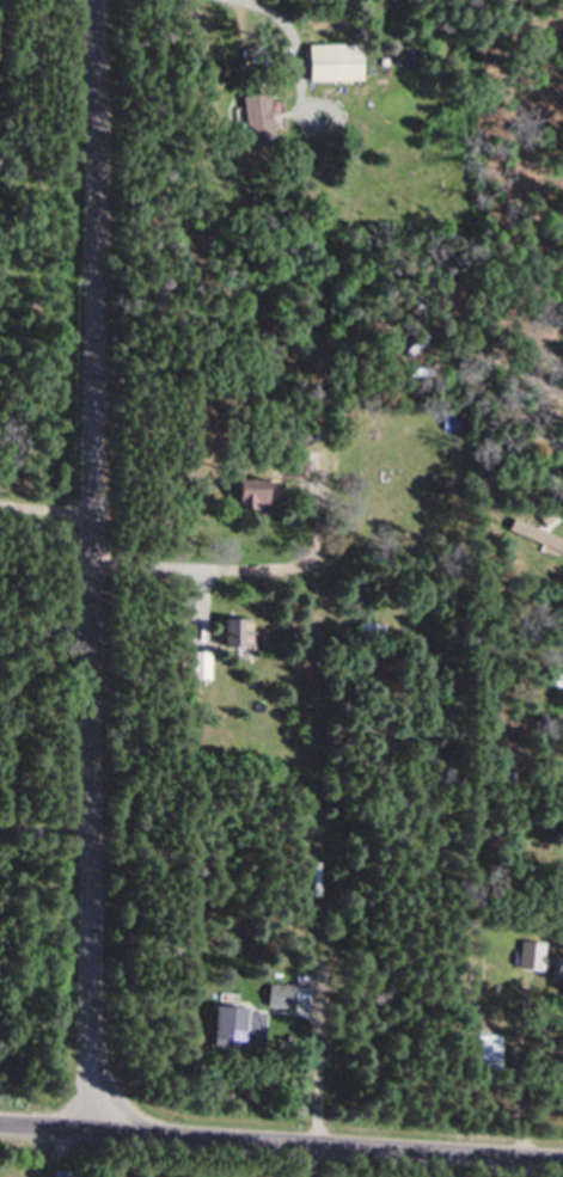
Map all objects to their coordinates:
road: (273, 11)
building: (333, 62)
building: (264, 119)
building: (294, 455)
building: (255, 492)
road: (45, 508)
building: (537, 534)
road: (90, 563)
road: (203, 564)
building: (239, 633)
road: (44, 637)
building: (202, 664)
building: (541, 961)
building: (282, 995)
building: (239, 1028)
road: (323, 1080)
road: (281, 1139)

